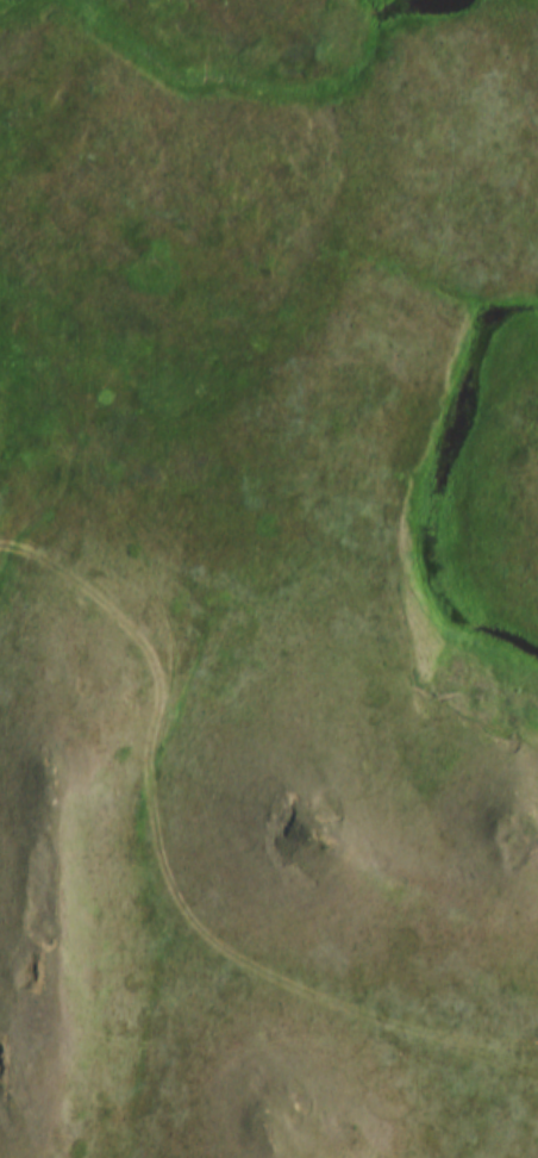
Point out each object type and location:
road: (96, 1078)

